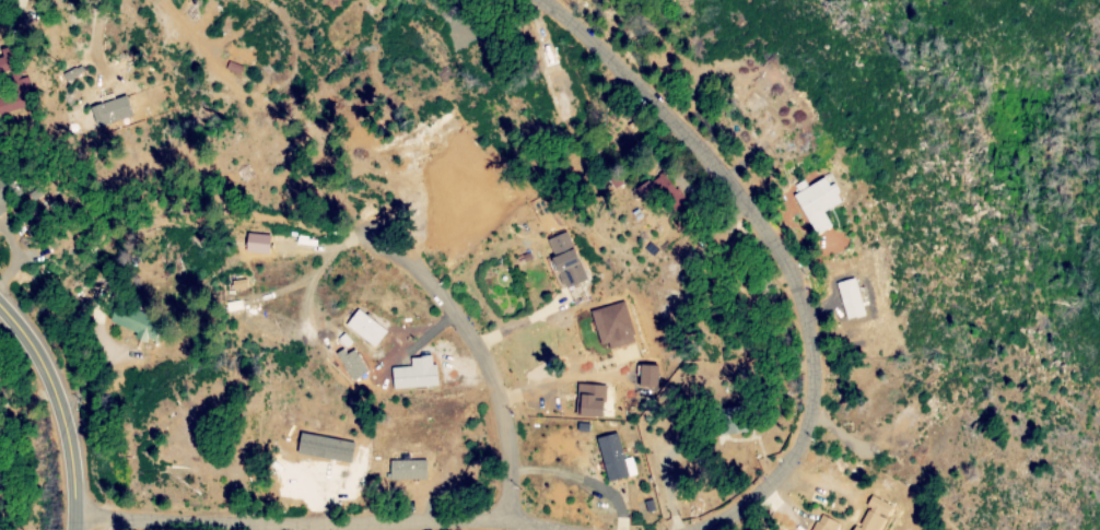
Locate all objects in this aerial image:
building: (11, 85)
building: (109, 110)
building: (658, 190)
building: (3, 199)
building: (817, 203)
building: (256, 243)
road: (779, 248)
building: (564, 259)
building: (849, 298)
building: (136, 325)
building: (612, 326)
building: (364, 328)
road: (478, 356)
building: (351, 364)
building: (413, 374)
building: (646, 376)
building: (590, 400)
road: (62, 408)
building: (734, 425)
building: (613, 458)
building: (406, 469)
building: (873, 515)
road: (309, 523)
building: (823, 523)

